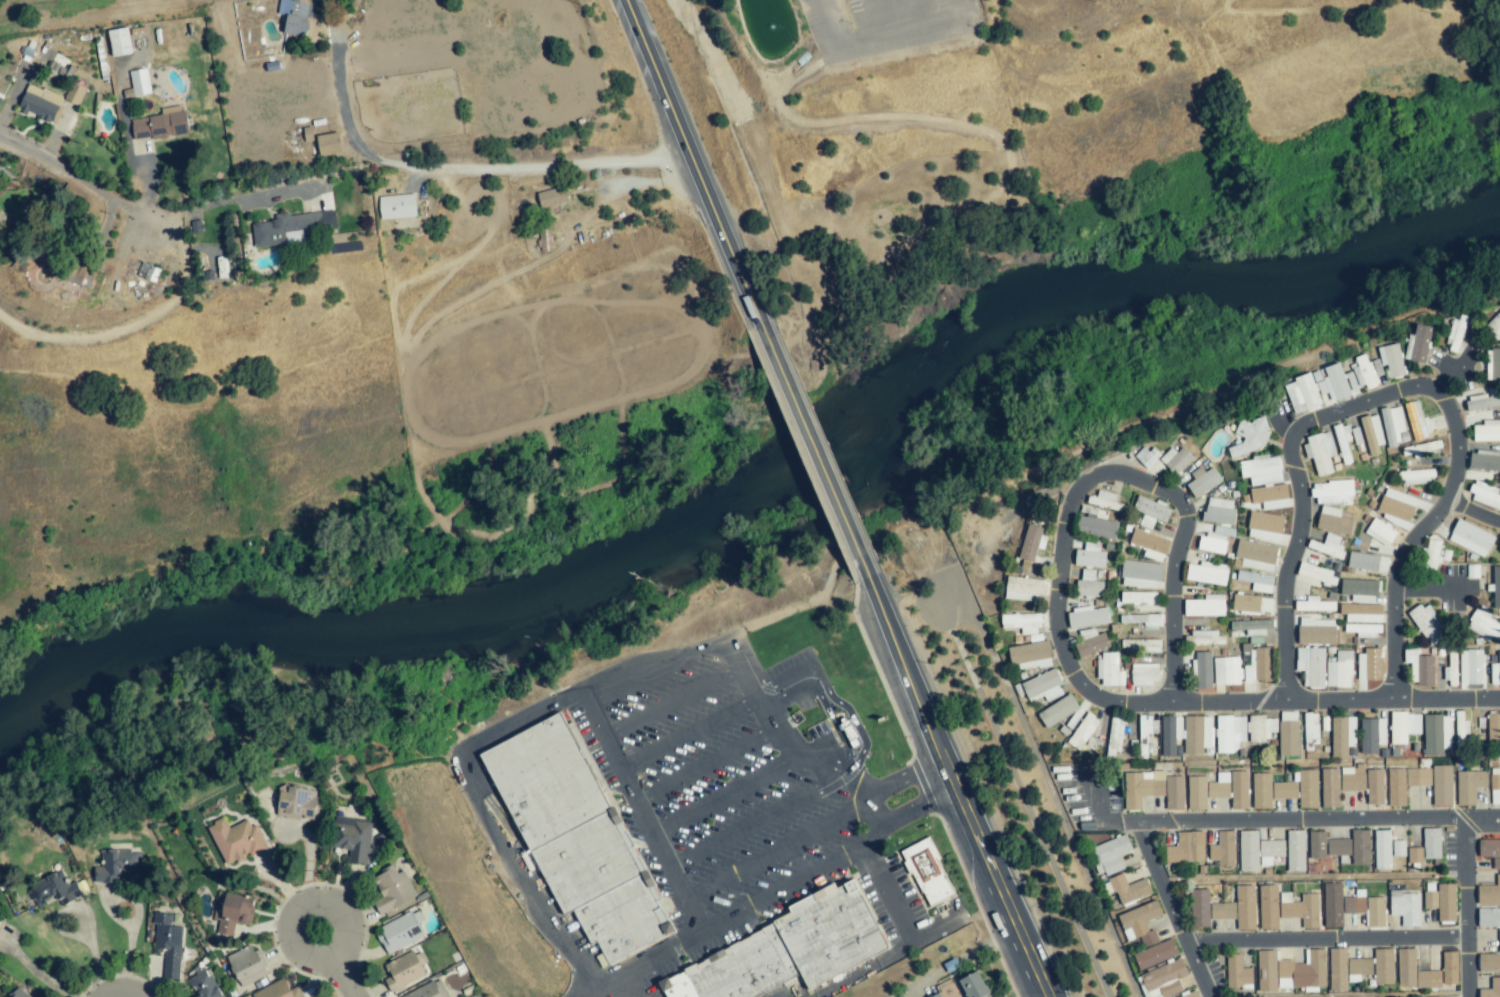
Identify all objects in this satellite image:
building: (294, 16)
road: (898, 37)
building: (120, 42)
road: (833, 43)
building: (139, 82)
building: (74, 93)
building: (40, 103)
road: (675, 116)
building: (160, 124)
building: (324, 143)
road: (457, 167)
building: (552, 197)
road: (150, 203)
building: (397, 206)
building: (290, 228)
building: (545, 240)
building: (148, 271)
building: (1494, 326)
building: (1457, 332)
building: (1419, 343)
building: (1391, 360)
building: (1494, 365)
building: (1365, 371)
building: (1332, 383)
building: (1351, 383)
building: (1302, 394)
road: (1391, 395)
road: (795, 406)
building: (1417, 420)
building: (1392, 425)
building: (1487, 431)
building: (1372, 433)
building: (1249, 437)
building: (1342, 441)
building: (1421, 448)
building: (1320, 452)
building: (1147, 456)
building: (1177, 459)
building: (1484, 461)
building: (1261, 470)
building: (1416, 477)
building: (1203, 482)
road: (1083, 488)
crop: (9, 492)
building: (1332, 492)
building: (1485, 495)
building: (1270, 497)
railway: (892, 499)
river: (771, 501)
building: (1105, 501)
building: (1396, 507)
building: (1150, 511)
building: (1219, 511)
road: (1472, 512)
building: (1333, 521)
building: (1096, 527)
building: (1380, 532)
building: (1471, 538)
building: (1031, 542)
building: (1211, 543)
building: (1149, 544)
building: (1328, 546)
building: (1256, 555)
building: (1431, 555)
building: (1089, 556)
building: (1367, 562)
building: (1207, 573)
building: (1140, 574)
building: (1315, 575)
building: (1256, 581)
building: (1088, 585)
building: (1496, 587)
building: (1025, 589)
road: (1430, 589)
building: (1360, 590)
building: (1138, 597)
building: (1252, 603)
building: (1313, 604)
building: (1205, 606)
building: (1362, 613)
building: (1087, 617)
road: (886, 618)
building: (1141, 620)
building: (1022, 623)
building: (1427, 624)
building: (1483, 624)
building: (1252, 627)
building: (1315, 630)
building: (1364, 630)
building: (1208, 638)
building: (1091, 645)
building: (1140, 645)
building: (1030, 655)
building: (1261, 664)
building: (1369, 664)
building: (1311, 666)
building: (1420, 667)
building: (1470, 667)
building: (1339, 669)
building: (1109, 670)
building: (1203, 670)
building: (1226, 671)
building: (1495, 672)
building: (1144, 674)
building: (1042, 686)
road: (566, 695)
road: (1335, 700)
road: (672, 701)
building: (1058, 711)
building: (1403, 726)
building: (1460, 726)
building: (1493, 726)
building: (1262, 728)
building: (1310, 728)
building: (1082, 731)
road: (690, 733)
building: (1230, 733)
building: (1288, 733)
building: (1115, 734)
building: (1170, 734)
building: (1197, 734)
building: (1436, 734)
building: (1342, 735)
building: (1372, 735)
road: (705, 761)
building: (1418, 776)
building: (1353, 778)
road: (903, 780)
building: (1495, 782)
road: (953, 786)
building: (1374, 786)
building: (1442, 786)
building: (1469, 786)
building: (1141, 787)
building: (1330, 787)
building: (1396, 787)
building: (1308, 788)
building: (1206, 790)
building: (1239, 790)
building: (1270, 790)
road: (724, 792)
building: (1174, 792)
building: (1495, 796)
building: (295, 802)
road: (914, 805)
road: (638, 811)
road: (1310, 821)
road: (754, 822)
building: (568, 831)
building: (352, 837)
building: (236, 840)
building: (1431, 843)
building: (1317, 844)
building: (1338, 847)
building: (1360, 847)
building: (1186, 848)
building: (1398, 848)
building: (1489, 848)
building: (1223, 849)
building: (1382, 849)
building: (1295, 850)
building: (1248, 851)
building: (1270, 851)
road: (777, 854)
building: (1109, 855)
building: (1415, 855)
building: (1496, 863)
building: (116, 864)
road: (309, 871)
building: (927, 872)
building: (391, 889)
building: (1128, 889)
building: (54, 890)
building: (1489, 893)
building: (1442, 901)
building: (1339, 905)
building: (1245, 907)
building: (1268, 907)
building: (1405, 907)
building: (1200, 908)
road: (1464, 908)
building: (1300, 909)
road: (743, 910)
building: (1222, 910)
building: (232, 911)
road: (1171, 911)
building: (1375, 912)
building: (1488, 917)
building: (1140, 923)
building: (401, 932)
road: (1325, 942)
building: (168, 943)
road: (909, 943)
building: (774, 948)
building: (1155, 954)
road: (1026, 955)
road: (95, 956)
building: (1490, 960)
road: (337, 962)
building: (246, 966)
building: (1383, 966)
building: (1449, 968)
building: (1337, 969)
building: (1358, 969)
road: (34, 971)
building: (404, 971)
building: (1266, 971)
building: (1302, 971)
building: (1414, 972)
building: (1237, 973)
building: (1162, 980)
building: (205, 984)
building: (973, 985)
road: (628, 987)
building: (1491, 989)
building: (278, 990)
building: (429, 990)
building: (18, 993)
building: (936, 995)
building: (1191, 995)

